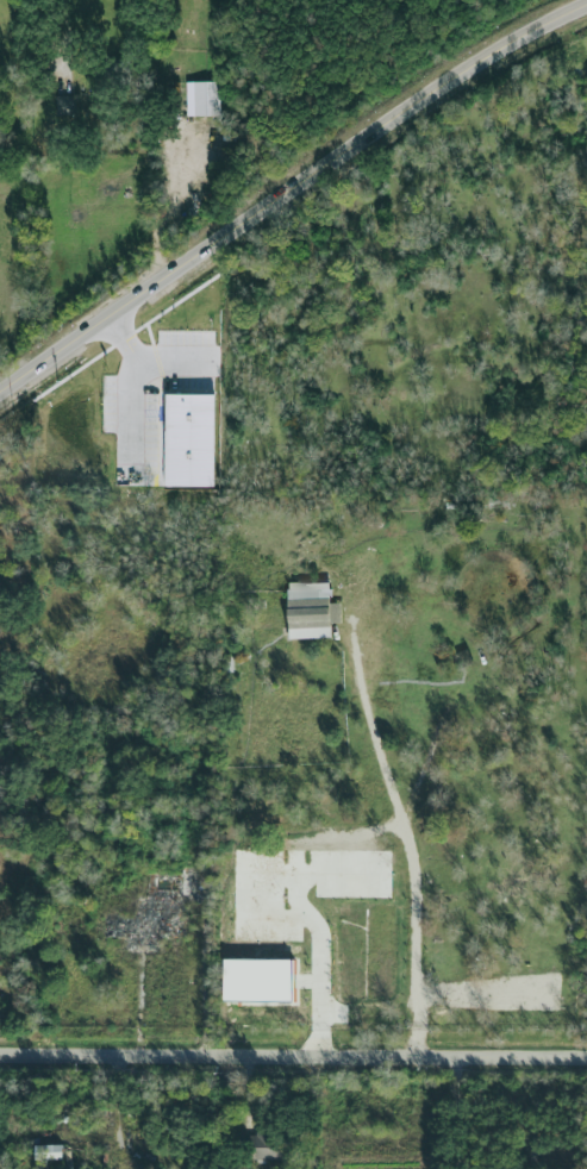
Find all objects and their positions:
building: (200, 98)
building: (63, 104)
road: (289, 192)
building: (311, 611)
road: (408, 842)
building: (260, 982)
road: (293, 1057)
road: (316, 1113)
building: (271, 1148)
building: (48, 1152)

